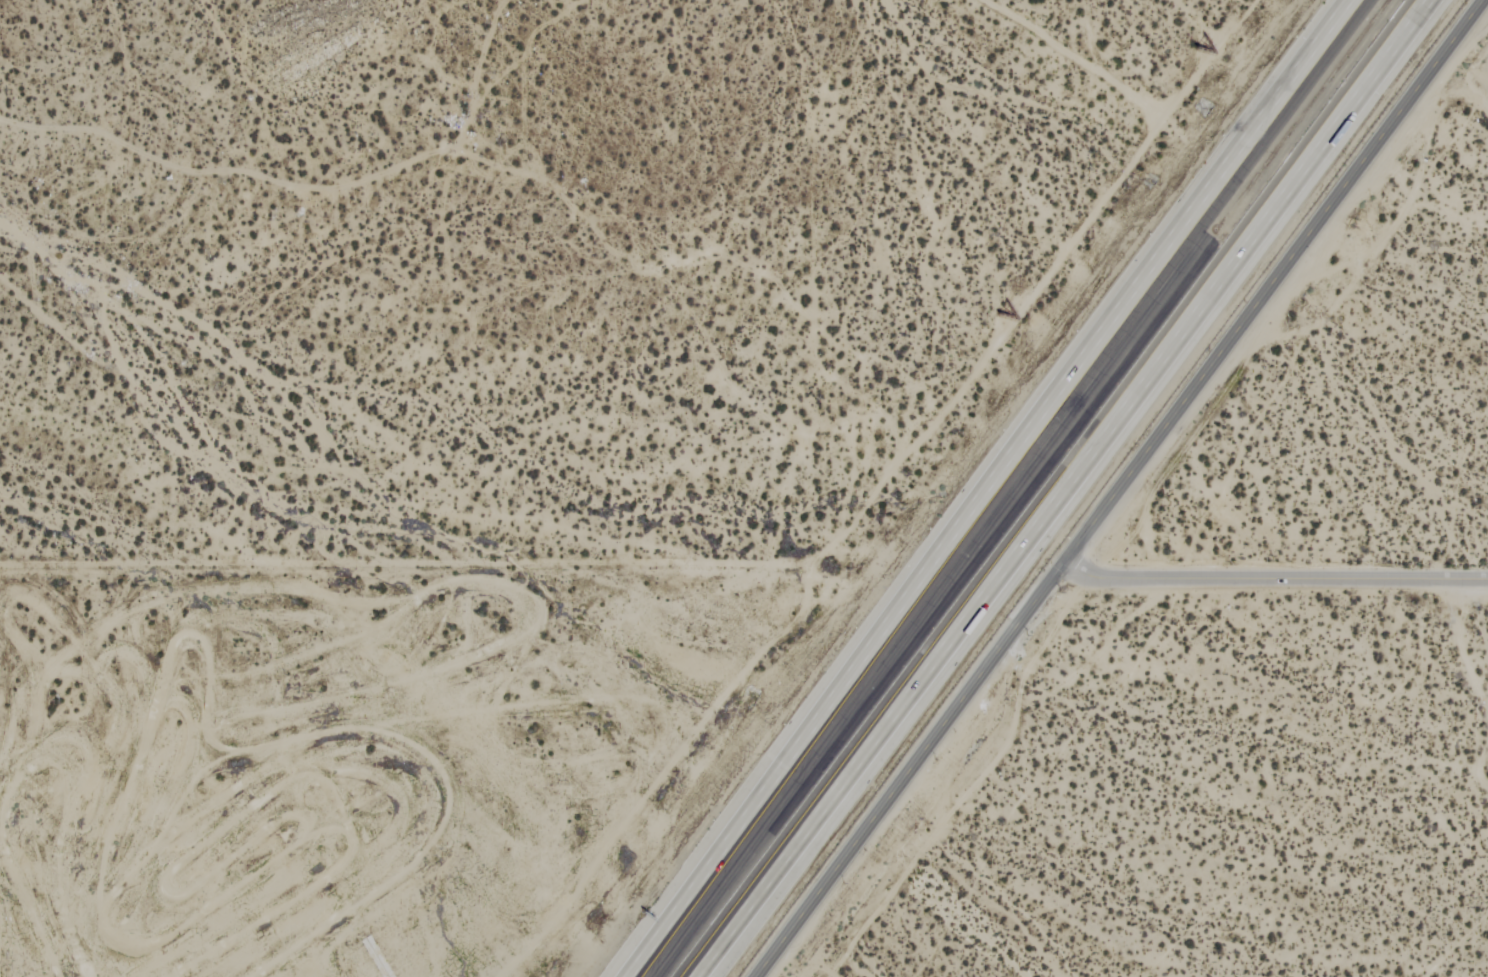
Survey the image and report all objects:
road: (996, 488)
railway: (1027, 488)
road: (1051, 488)
road: (1119, 489)
road: (1274, 578)

